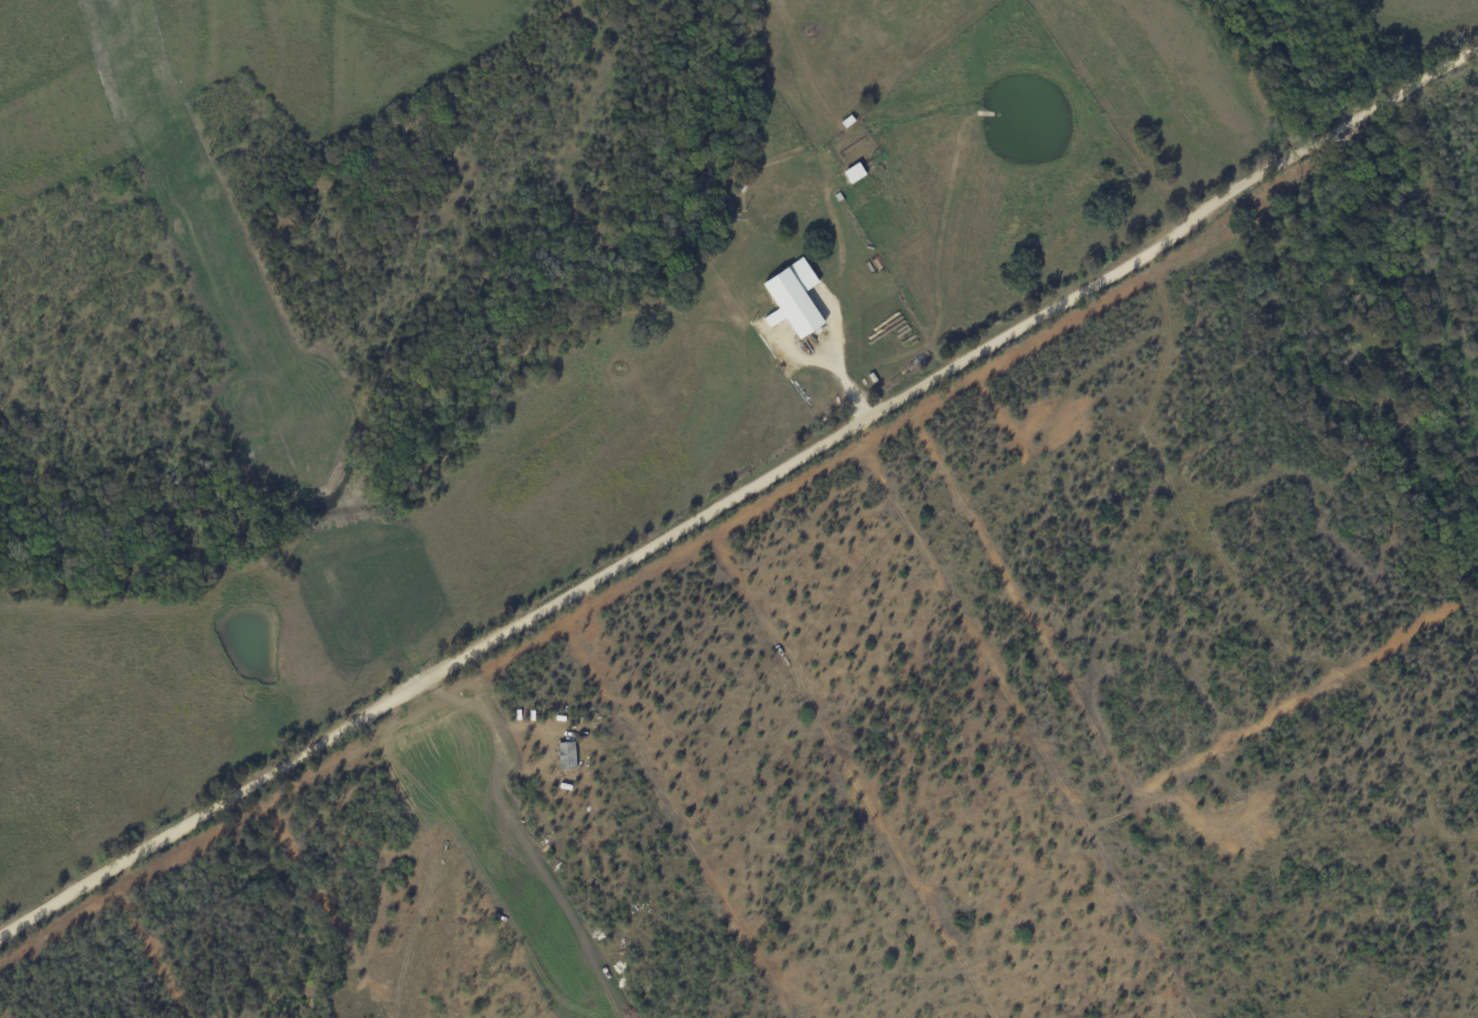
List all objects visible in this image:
road: (1407, 87)
building: (854, 172)
building: (794, 298)
road: (846, 385)
road: (670, 536)

